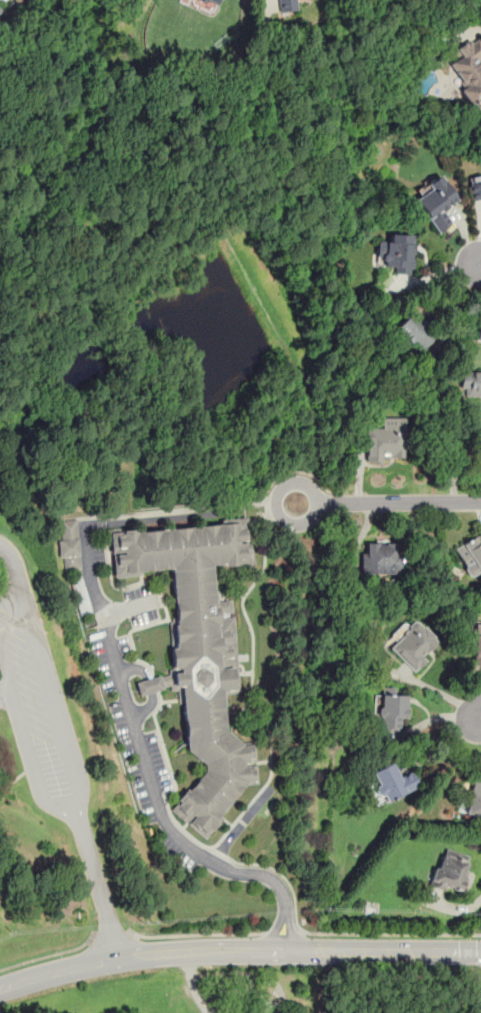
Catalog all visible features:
building: (213, 2)
building: (287, 5)
building: (469, 70)
road: (301, 91)
park: (135, 158)
building: (475, 187)
building: (435, 203)
building: (398, 252)
road: (477, 265)
building: (414, 331)
building: (479, 332)
building: (470, 384)
building: (385, 439)
road: (455, 458)
road: (300, 471)
road: (398, 503)
road: (265, 505)
road: (275, 509)
road: (179, 516)
building: (70, 544)
building: (470, 554)
building: (379, 557)
road: (133, 606)
building: (413, 644)
building: (476, 648)
building: (198, 650)
road: (152, 685)
parking lot: (28, 686)
road: (434, 692)
road: (128, 701)
building: (390, 708)
road: (241, 712)
road: (478, 716)
road: (157, 722)
road: (74, 764)
park: (51, 777)
building: (392, 782)
building: (474, 799)
building: (451, 871)
road: (258, 873)
road: (99, 883)
road: (277, 928)
road: (282, 933)
road: (390, 933)
road: (193, 934)
road: (291, 934)
road: (110, 939)
road: (209, 941)
road: (392, 950)
road: (50, 954)
road: (209, 957)
road: (57, 972)

